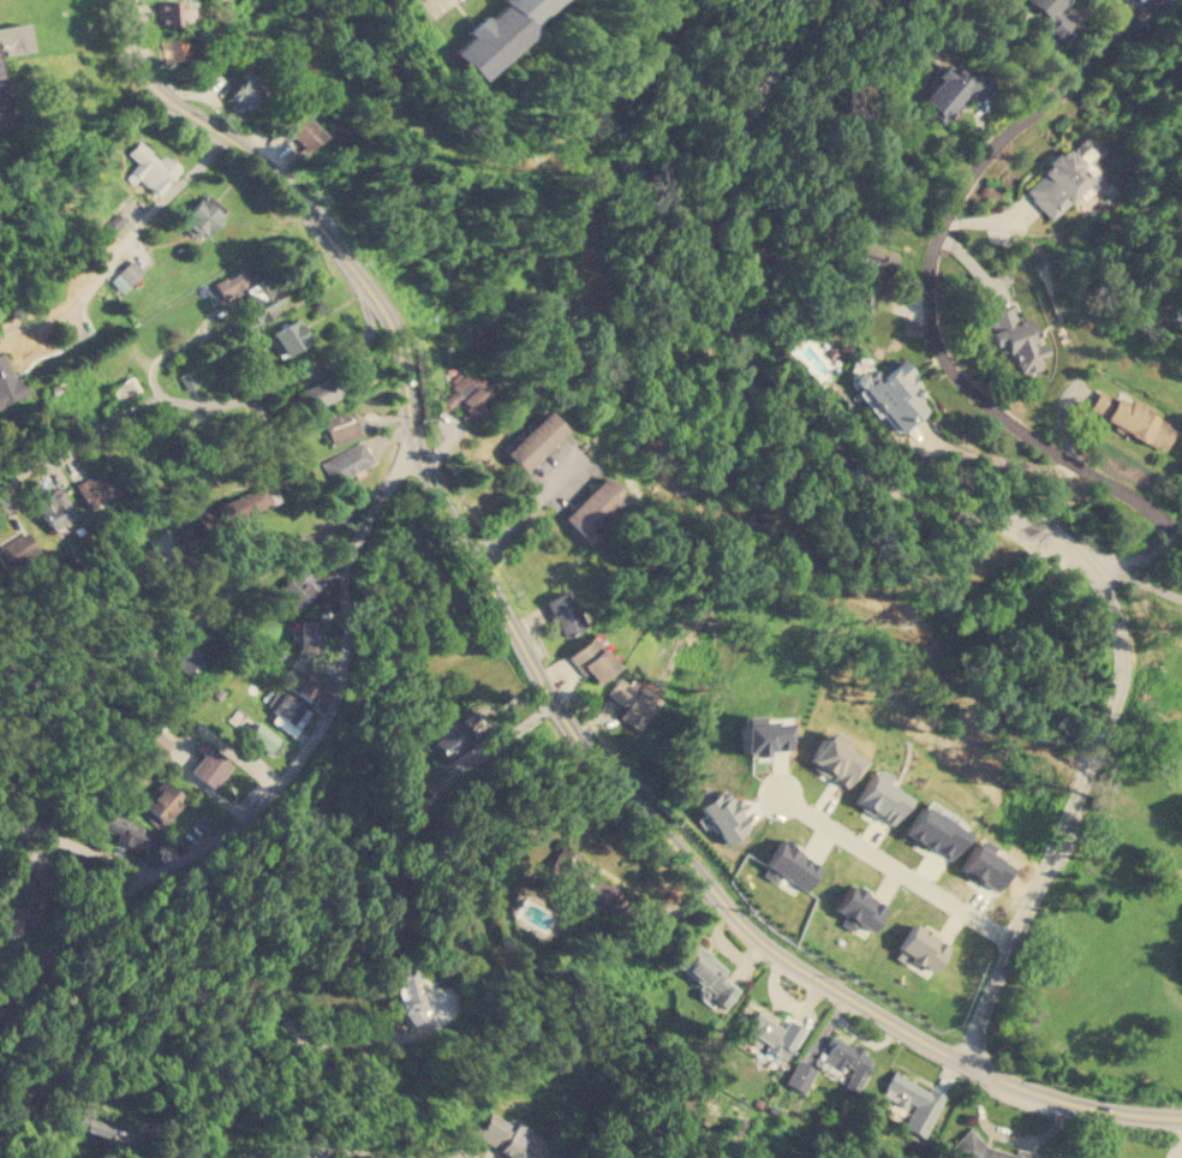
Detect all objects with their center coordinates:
building: (174, 12)
building: (1056, 17)
building: (495, 34)
building: (12, 37)
building: (175, 48)
building: (955, 89)
building: (244, 90)
building: (2, 108)
building: (303, 131)
building: (150, 167)
building: (1065, 175)
building: (204, 213)
road: (120, 249)
building: (870, 269)
road: (925, 277)
building: (288, 336)
building: (1015, 339)
building: (10, 382)
building: (124, 388)
building: (320, 392)
building: (886, 392)
building: (466, 395)
road: (222, 404)
building: (1130, 418)
building: (341, 425)
building: (533, 440)
building: (346, 461)
park: (801, 465)
building: (96, 487)
building: (259, 496)
building: (592, 505)
building: (54, 507)
road: (529, 507)
road: (966, 508)
road: (321, 537)
building: (16, 549)
road: (1141, 555)
road: (482, 571)
road: (1136, 580)
building: (295, 587)
building: (563, 611)
building: (308, 634)
building: (184, 656)
building: (591, 658)
building: (304, 685)
building: (631, 702)
building: (289, 714)
building: (262, 735)
building: (448, 736)
building: (762, 736)
building: (834, 757)
building: (209, 763)
building: (880, 798)
building: (163, 800)
road: (269, 801)
building: (718, 813)
building: (126, 829)
building: (935, 831)
road: (77, 843)
building: (790, 865)
road: (896, 871)
building: (584, 881)
building: (859, 908)
building: (16, 918)
building: (14, 937)
road: (247, 938)
building: (920, 949)
building: (706, 972)
building: (408, 995)
building: (769, 1032)
building: (847, 1061)
building: (799, 1074)
building: (913, 1102)
road: (1068, 1103)
building: (90, 1124)
building: (503, 1134)
building: (987, 1150)

